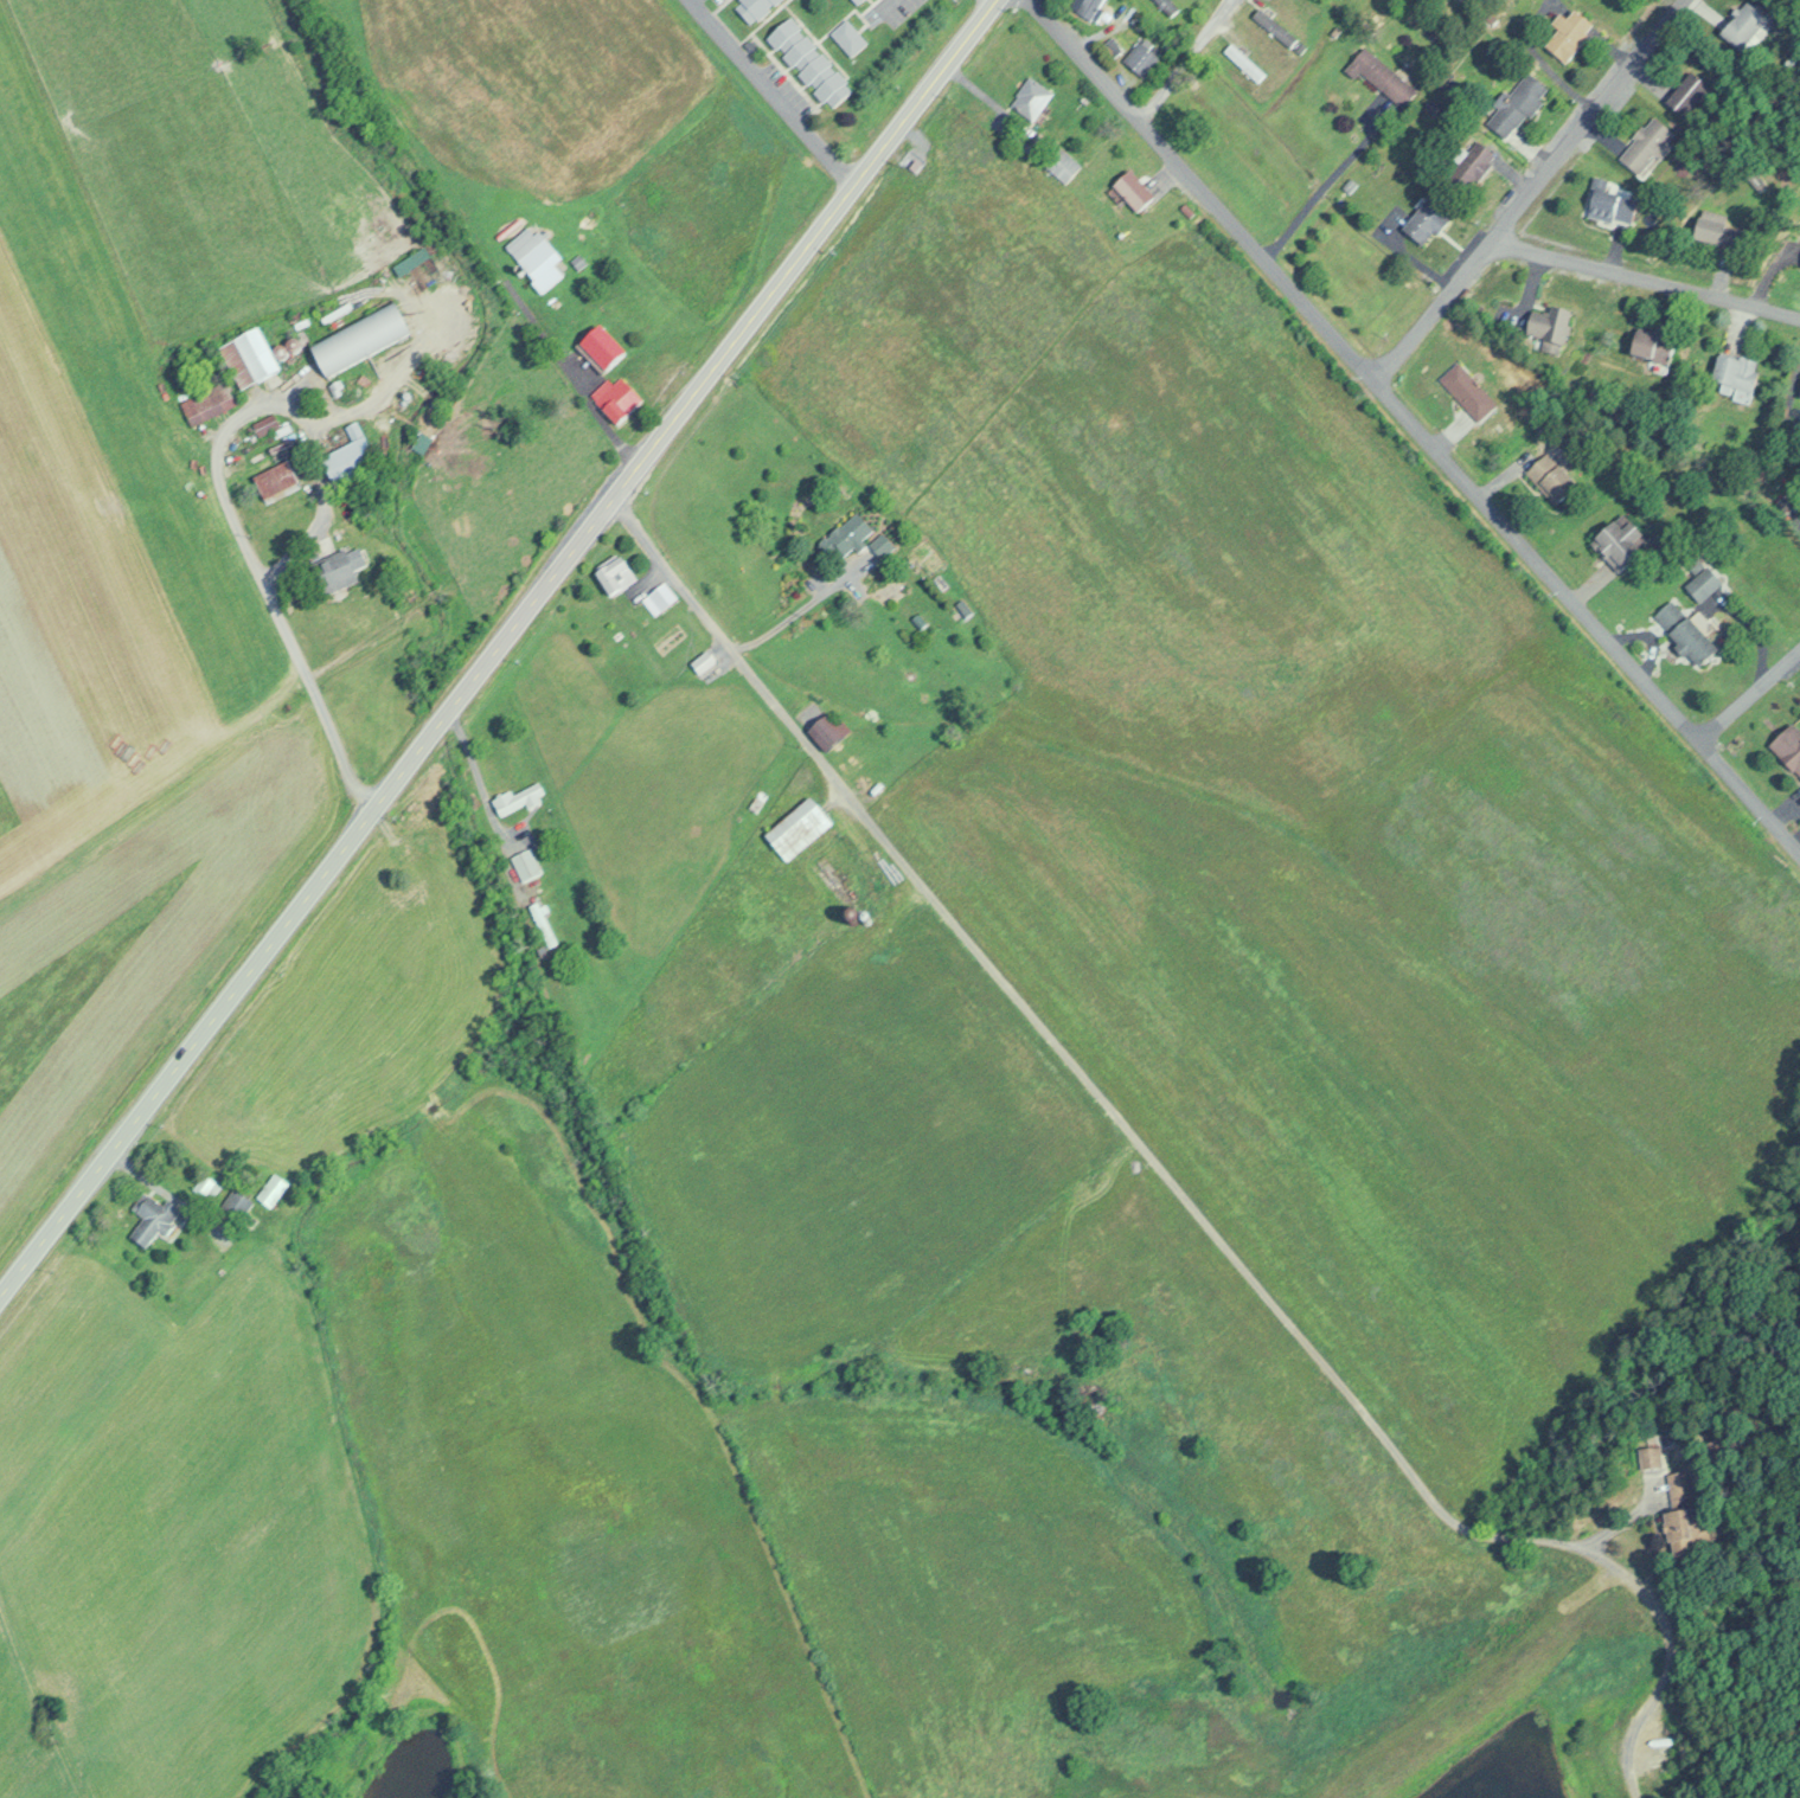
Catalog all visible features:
building: (857, 1)
building: (1167, 6)
building: (1089, 7)
building: (754, 8)
building: (1744, 26)
building: (1275, 27)
building: (1570, 36)
building: (848, 38)
road: (1179, 57)
building: (1141, 58)
building: (811, 63)
building: (1244, 63)
building: (1382, 76)
road: (770, 92)
building: (1689, 94)
building: (1031, 99)
building: (1518, 104)
building: (1646, 146)
building: (1474, 165)
building: (1063, 166)
road: (1529, 188)
building: (1135, 192)
building: (1613, 206)
building: (1426, 223)
building: (1718, 232)
building: (538, 258)
road: (1642, 277)
building: (1551, 323)
building: (360, 336)
building: (1654, 345)
building: (249, 357)
building: (1737, 370)
building: (1468, 390)
building: (616, 397)
building: (209, 402)
road: (1414, 423)
building: (351, 461)
building: (1552, 477)
building: (276, 480)
road: (223, 488)
building: (847, 533)
building: (880, 544)
building: (1621, 544)
building: (337, 571)
building: (614, 572)
road: (645, 579)
building: (1704, 582)
building: (658, 597)
road: (800, 605)
building: (963, 606)
building: (918, 619)
building: (1686, 630)
road: (494, 644)
road: (722, 648)
building: (703, 661)
road: (1750, 687)
building: (827, 732)
building: (1789, 747)
road: (479, 781)
building: (518, 797)
building: (756, 800)
building: (797, 827)
building: (525, 863)
building: (542, 920)
road: (1167, 1177)
building: (206, 1187)
building: (271, 1188)
building: (236, 1201)
building: (154, 1218)
building: (1651, 1457)
building: (1679, 1489)
road: (1620, 1526)
building: (1685, 1529)
dam: (1467, 1696)
building: (1659, 1744)
dam: (1161, 1797)

